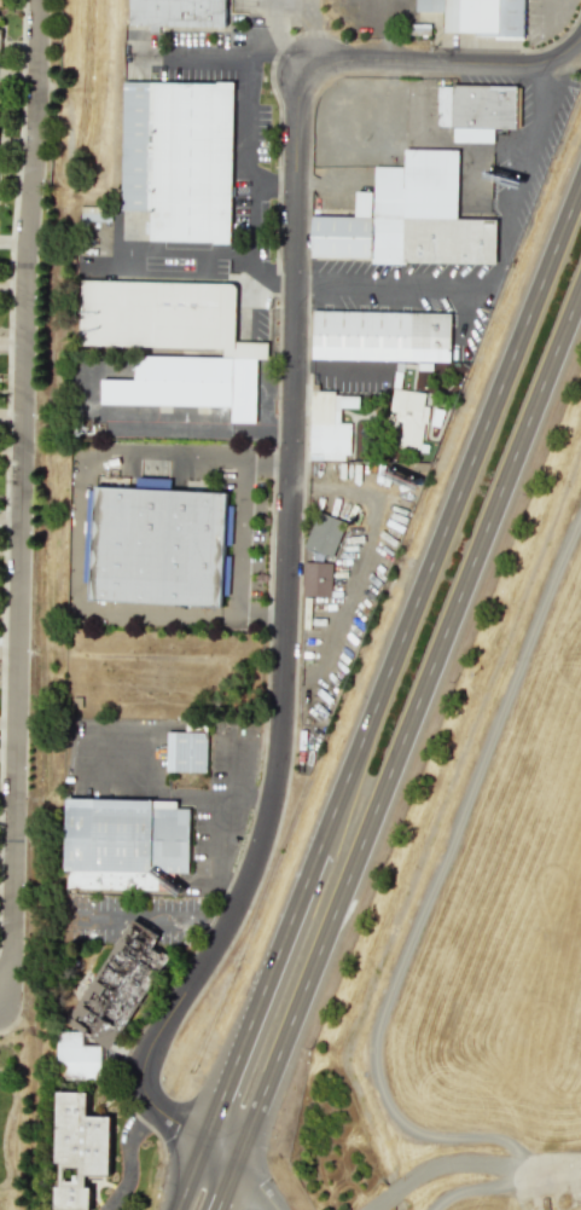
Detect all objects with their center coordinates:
building: (0, 2)
building: (174, 12)
road: (550, 13)
building: (477, 16)
road: (307, 25)
building: (0, 41)
road: (251, 52)
road: (448, 60)
road: (546, 77)
building: (475, 110)
road: (250, 111)
building: (178, 162)
road: (275, 184)
road: (516, 192)
building: (94, 213)
building: (405, 218)
road: (246, 280)
road: (391, 284)
building: (156, 309)
building: (384, 338)
road: (343, 370)
building: (194, 387)
building: (408, 416)
building: (327, 428)
road: (268, 462)
rooftop solar panel: (153, 481)
building: (152, 482)
road: (18, 487)
rooftop solar panel: (230, 523)
building: (324, 534)
road: (238, 537)
building: (159, 550)
road: (364, 561)
rooftop solar panel: (225, 575)
building: (315, 578)
road: (262, 615)
road: (290, 633)
road: (391, 659)
road: (407, 719)
rooftop solar panel: (193, 746)
building: (185, 751)
road: (159, 792)
road: (254, 797)
road: (228, 807)
rooftop solar panel: (126, 844)
building: (127, 844)
road: (230, 886)
road: (136, 916)
airport: (473, 920)
road: (215, 922)
building: (129, 990)
building: (75, 1055)
building: (77, 1148)
road: (220, 1151)
road: (128, 1157)
road: (190, 1175)
road: (260, 1181)
road: (226, 1186)

